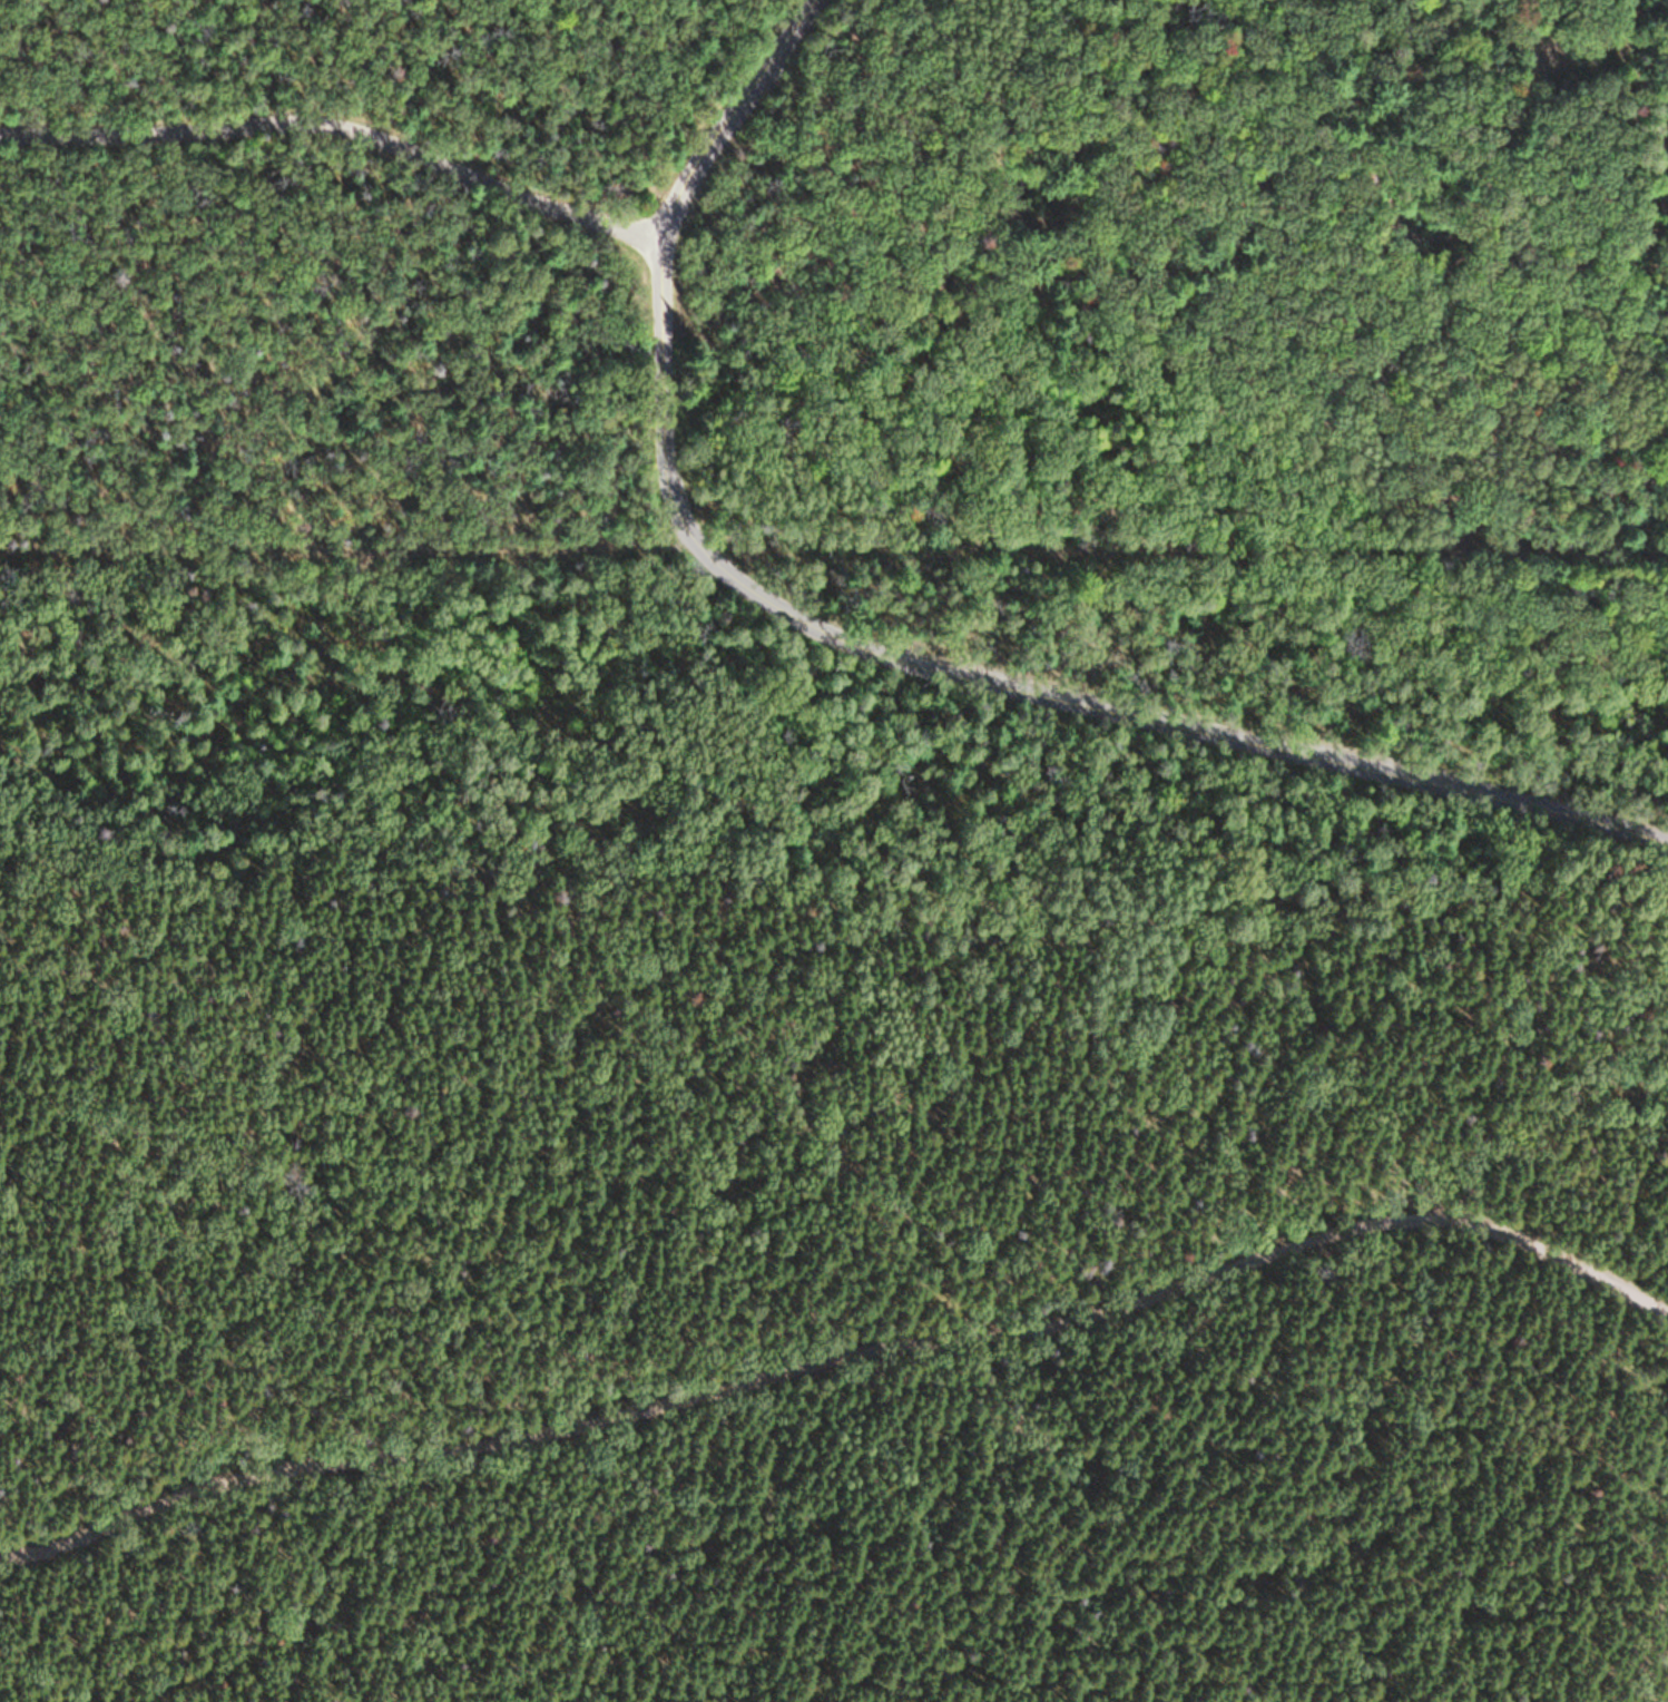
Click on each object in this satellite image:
road: (338, 128)
road: (1487, 139)
road: (352, 546)
road: (879, 654)
road: (733, 800)
road: (173, 889)
road: (1543, 1102)
road: (843, 1364)

